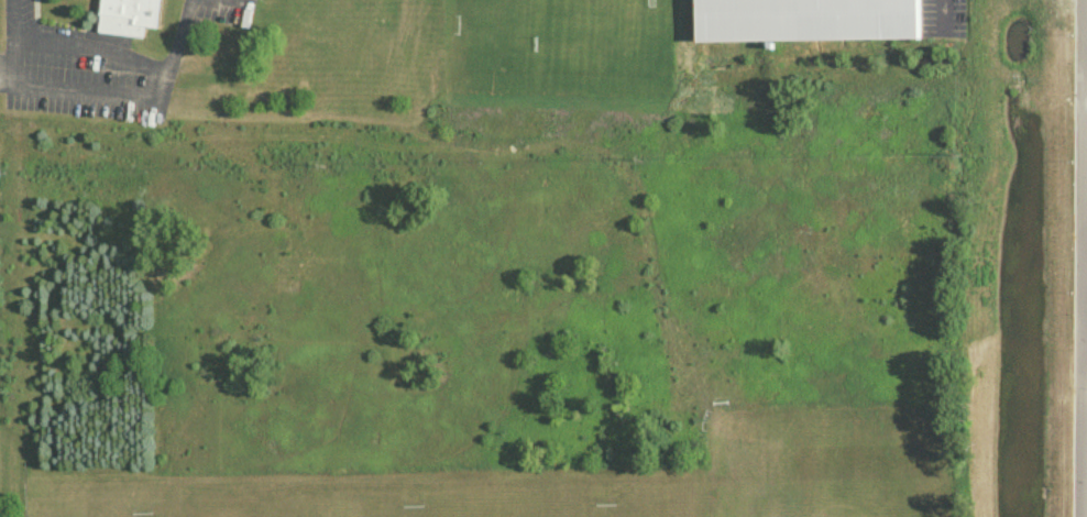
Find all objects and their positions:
road: (229, 3)
road: (943, 14)
building: (129, 15)
road: (35, 20)
building: (820, 20)
road: (10, 40)
road: (90, 48)
road: (131, 95)
road: (1083, 439)

